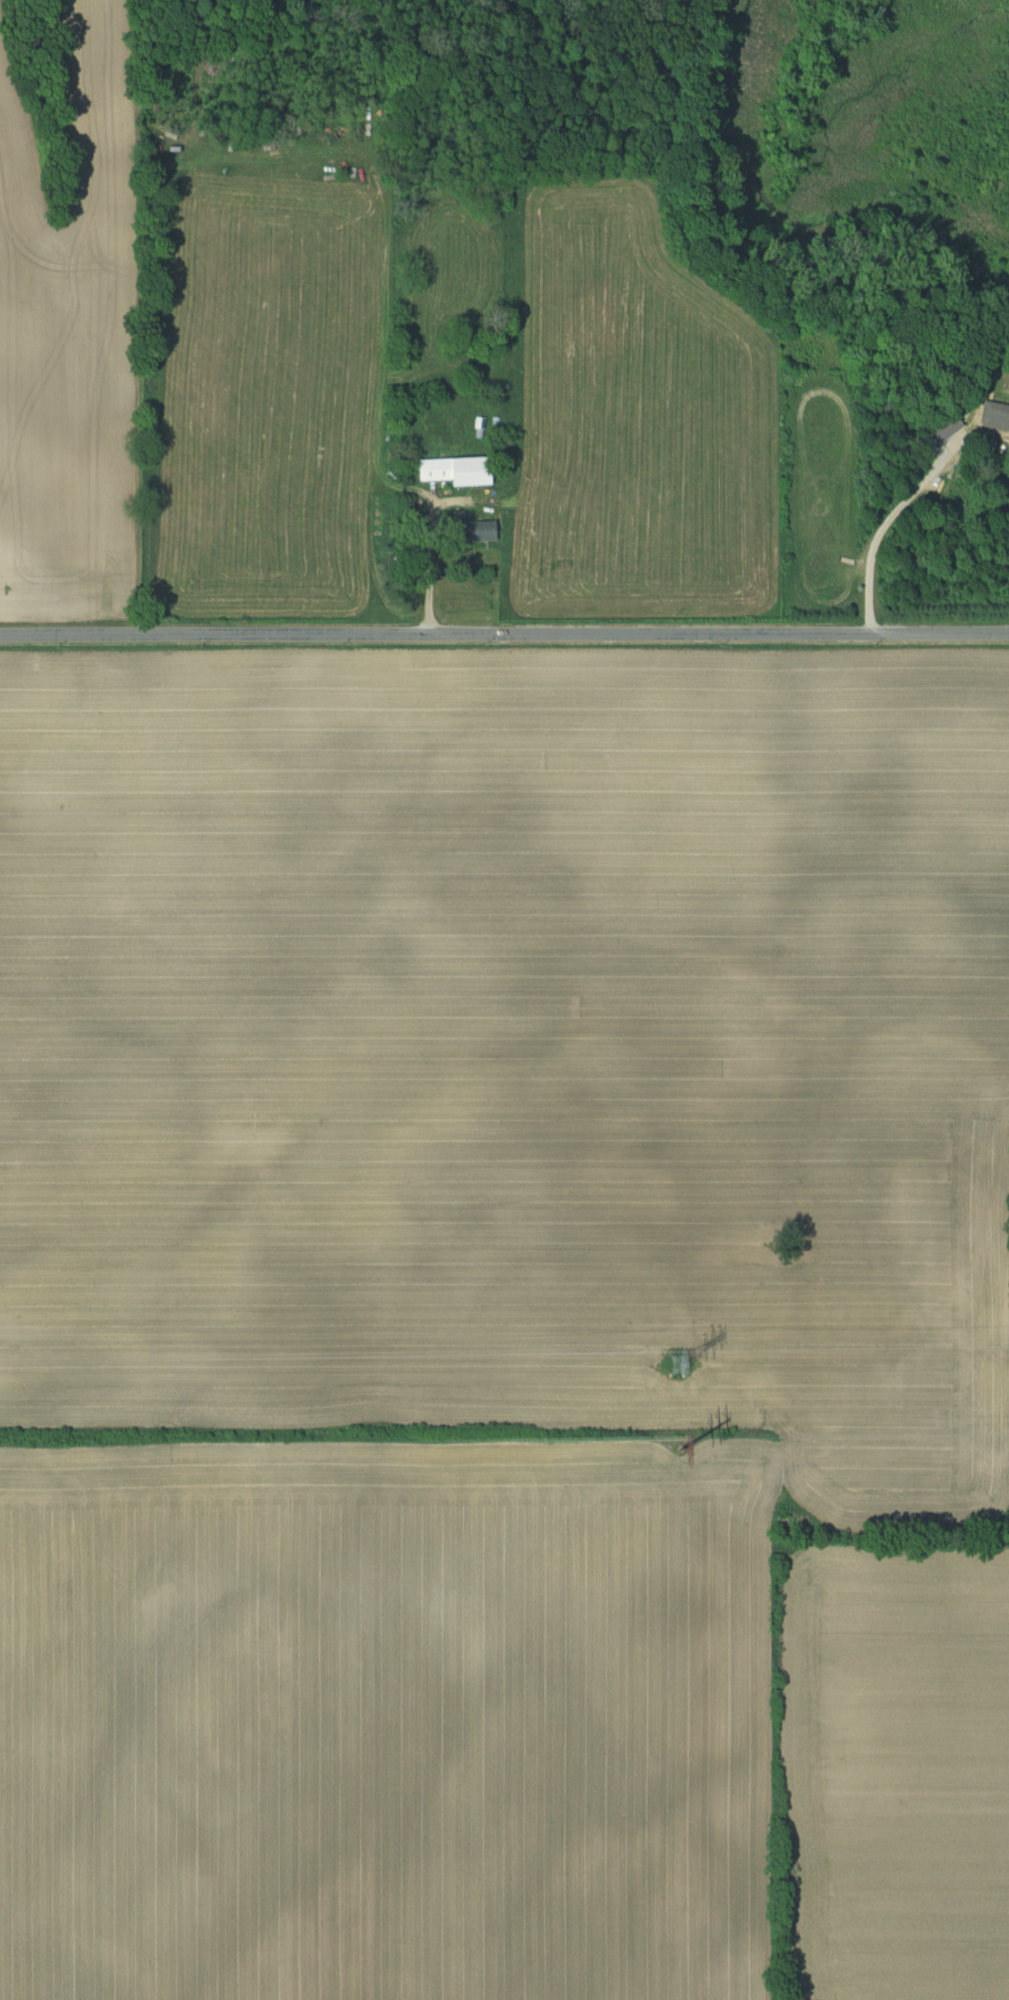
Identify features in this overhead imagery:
building: (997, 413)
building: (941, 425)
building: (452, 471)
building: (465, 526)
road: (887, 528)
road: (504, 633)
power tower: (674, 1366)
power tower: (675, 1444)

